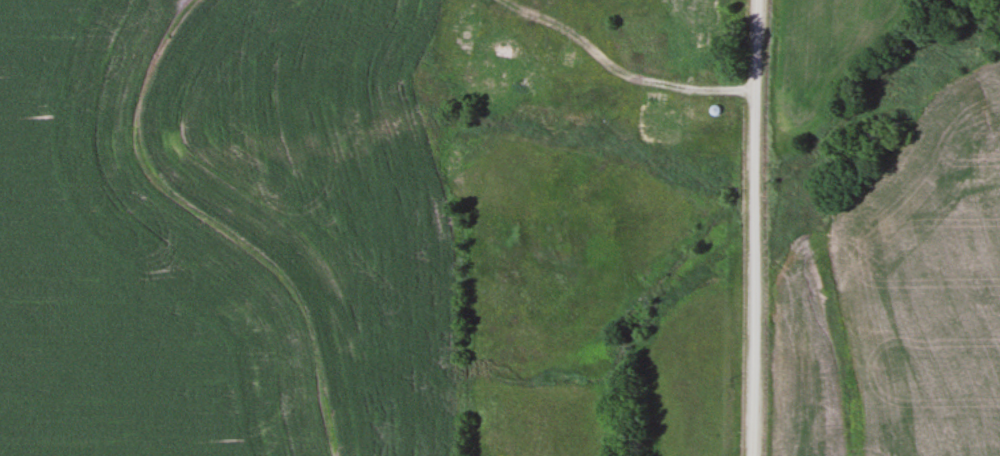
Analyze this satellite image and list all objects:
building: (696, 38)
building: (655, 99)
road: (754, 227)

